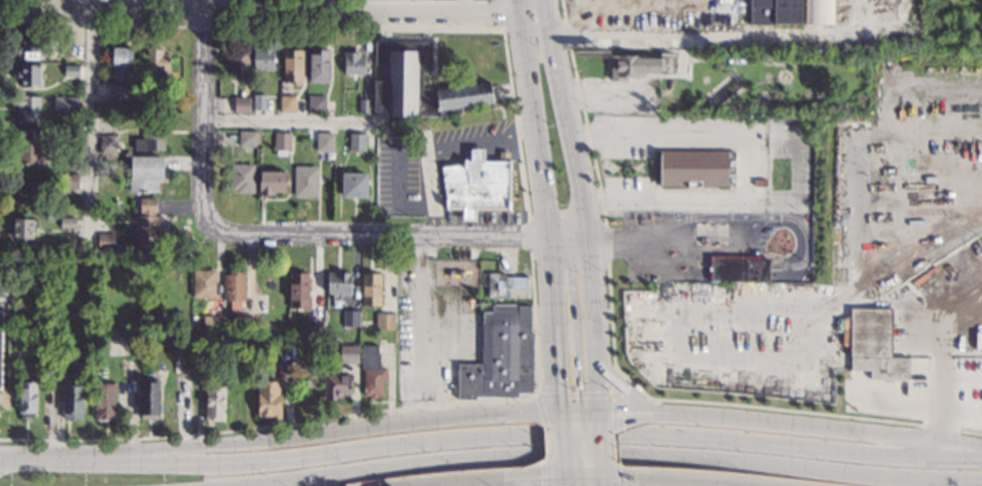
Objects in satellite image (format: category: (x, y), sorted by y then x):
road: (323, 5)
road: (287, 9)
building: (819, 11)
building: (775, 12)
road: (187, 13)
road: (222, 14)
road: (500, 15)
road: (670, 40)
building: (32, 44)
building: (263, 57)
building: (157, 63)
building: (239, 63)
building: (354, 63)
building: (122, 65)
building: (292, 65)
building: (319, 65)
building: (633, 66)
building: (71, 70)
building: (31, 75)
building: (417, 83)
building: (119, 91)
building: (259, 101)
building: (287, 103)
building: (65, 104)
building: (242, 104)
building: (316, 104)
building: (161, 106)
building: (364, 106)
building: (28, 107)
road: (201, 112)
road: (562, 119)
road: (287, 122)
road: (89, 123)
building: (151, 135)
building: (247, 138)
building: (324, 141)
building: (282, 142)
building: (357, 142)
building: (107, 144)
building: (32, 147)
road: (438, 147)
road: (540, 156)
building: (108, 157)
road: (745, 157)
building: (694, 168)
building: (146, 173)
building: (242, 177)
building: (70, 181)
building: (305, 181)
building: (33, 182)
building: (271, 182)
building: (760, 182)
building: (354, 185)
building: (477, 185)
building: (68, 222)
building: (148, 224)
building: (24, 227)
road: (529, 231)
road: (395, 235)
building: (105, 241)
road: (633, 242)
building: (4, 260)
building: (739, 271)
road: (587, 274)
building: (203, 283)
building: (338, 283)
building: (507, 285)
building: (234, 289)
building: (371, 289)
building: (299, 290)
building: (351, 318)
building: (385, 321)
building: (212, 324)
building: (242, 324)
road: (431, 327)
building: (313, 328)
road: (574, 337)
building: (1, 341)
building: (179, 341)
building: (875, 344)
building: (268, 345)
building: (348, 353)
building: (500, 356)
building: (265, 360)
road: (594, 360)
road: (557, 362)
building: (60, 363)
building: (131, 369)
building: (372, 371)
road: (616, 372)
building: (859, 380)
road: (615, 384)
building: (337, 385)
building: (636, 387)
road: (620, 388)
road: (577, 396)
building: (27, 398)
building: (149, 399)
building: (105, 400)
building: (269, 400)
building: (72, 401)
building: (215, 402)
traffic signals: (560, 412)
road: (578, 412)
traffic signals: (581, 413)
traffic signals: (596, 413)
road: (622, 413)
road: (560, 417)
road: (575, 417)
road: (596, 417)
road: (815, 427)
road: (321, 433)
road: (490, 438)
road: (548, 444)
road: (599, 445)
road: (562, 446)
road: (578, 446)
road: (583, 446)
road: (614, 446)
road: (610, 454)
road: (549, 473)
road: (618, 473)
road: (585, 474)
road: (601, 474)
road: (564, 477)
road: (580, 477)
road: (536, 479)
traffic signals: (565, 479)
traffic signals: (581, 479)
road: (583, 479)
traffic signals: (602, 479)
road: (662, 480)
road: (464, 482)
road: (602, 482)
road: (512, 483)
road: (693, 484)
road: (428, 485)

